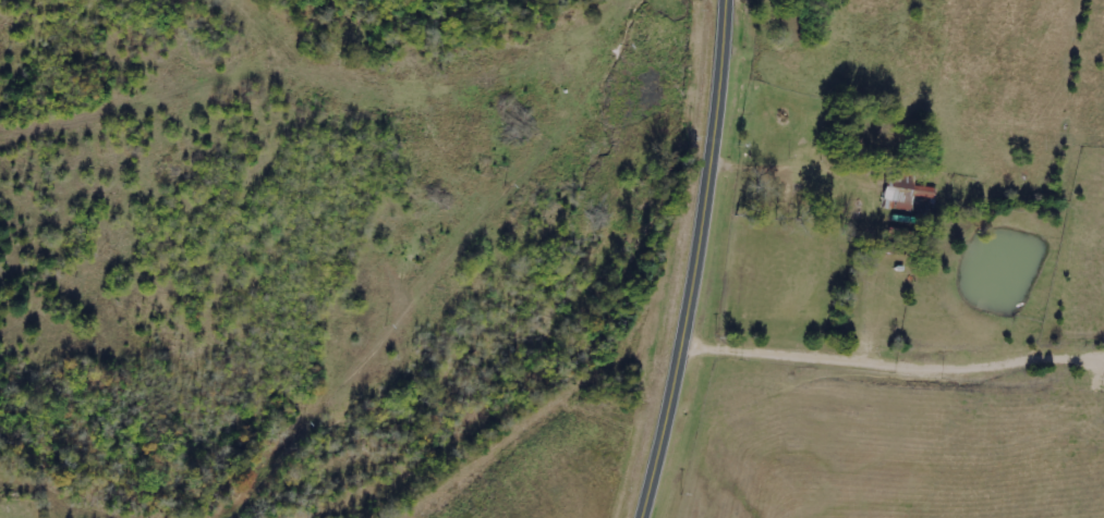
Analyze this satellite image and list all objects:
building: (907, 195)
road: (700, 260)

